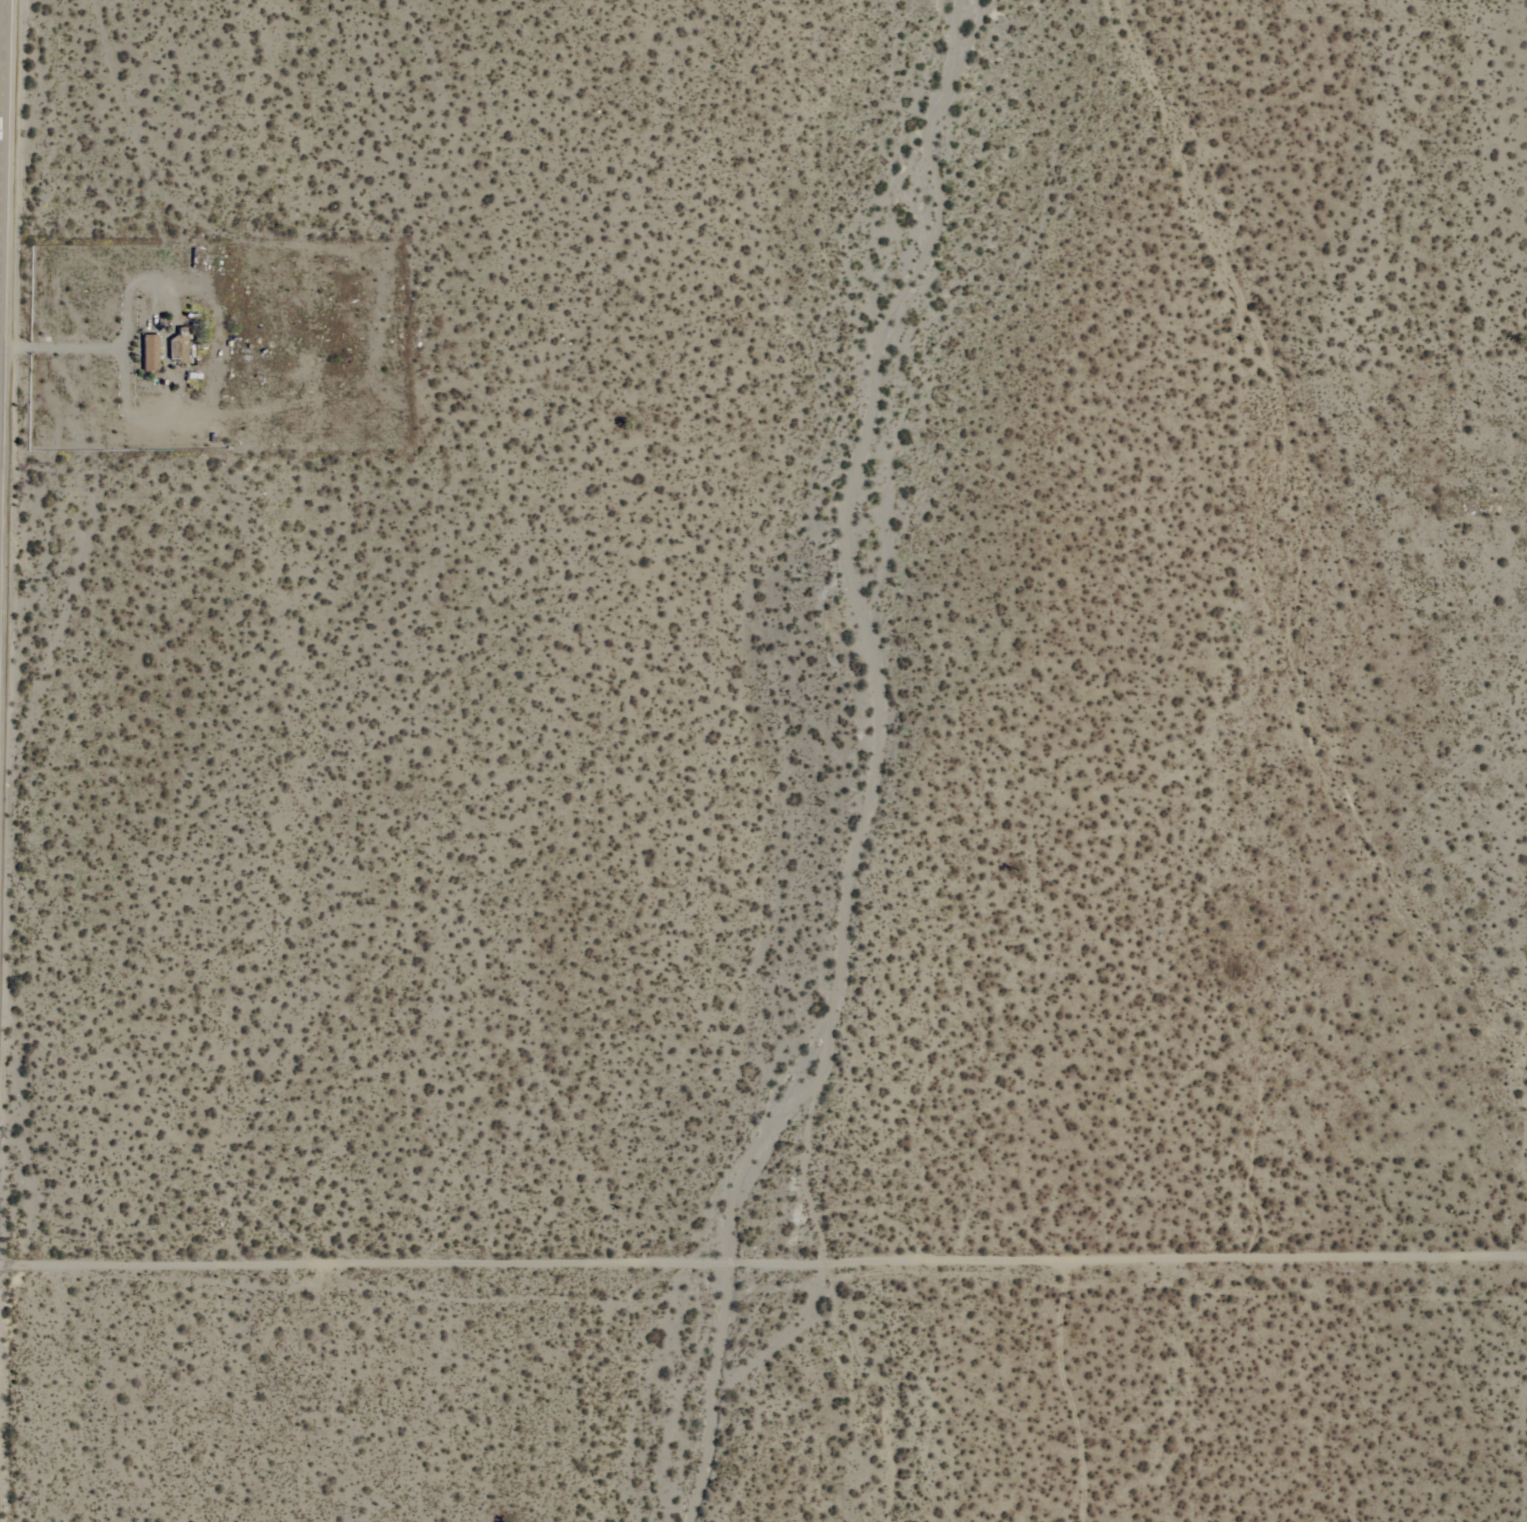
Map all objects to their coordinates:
building: (175, 345)
road: (55, 346)
building: (148, 352)
road: (213, 354)
road: (763, 1262)

